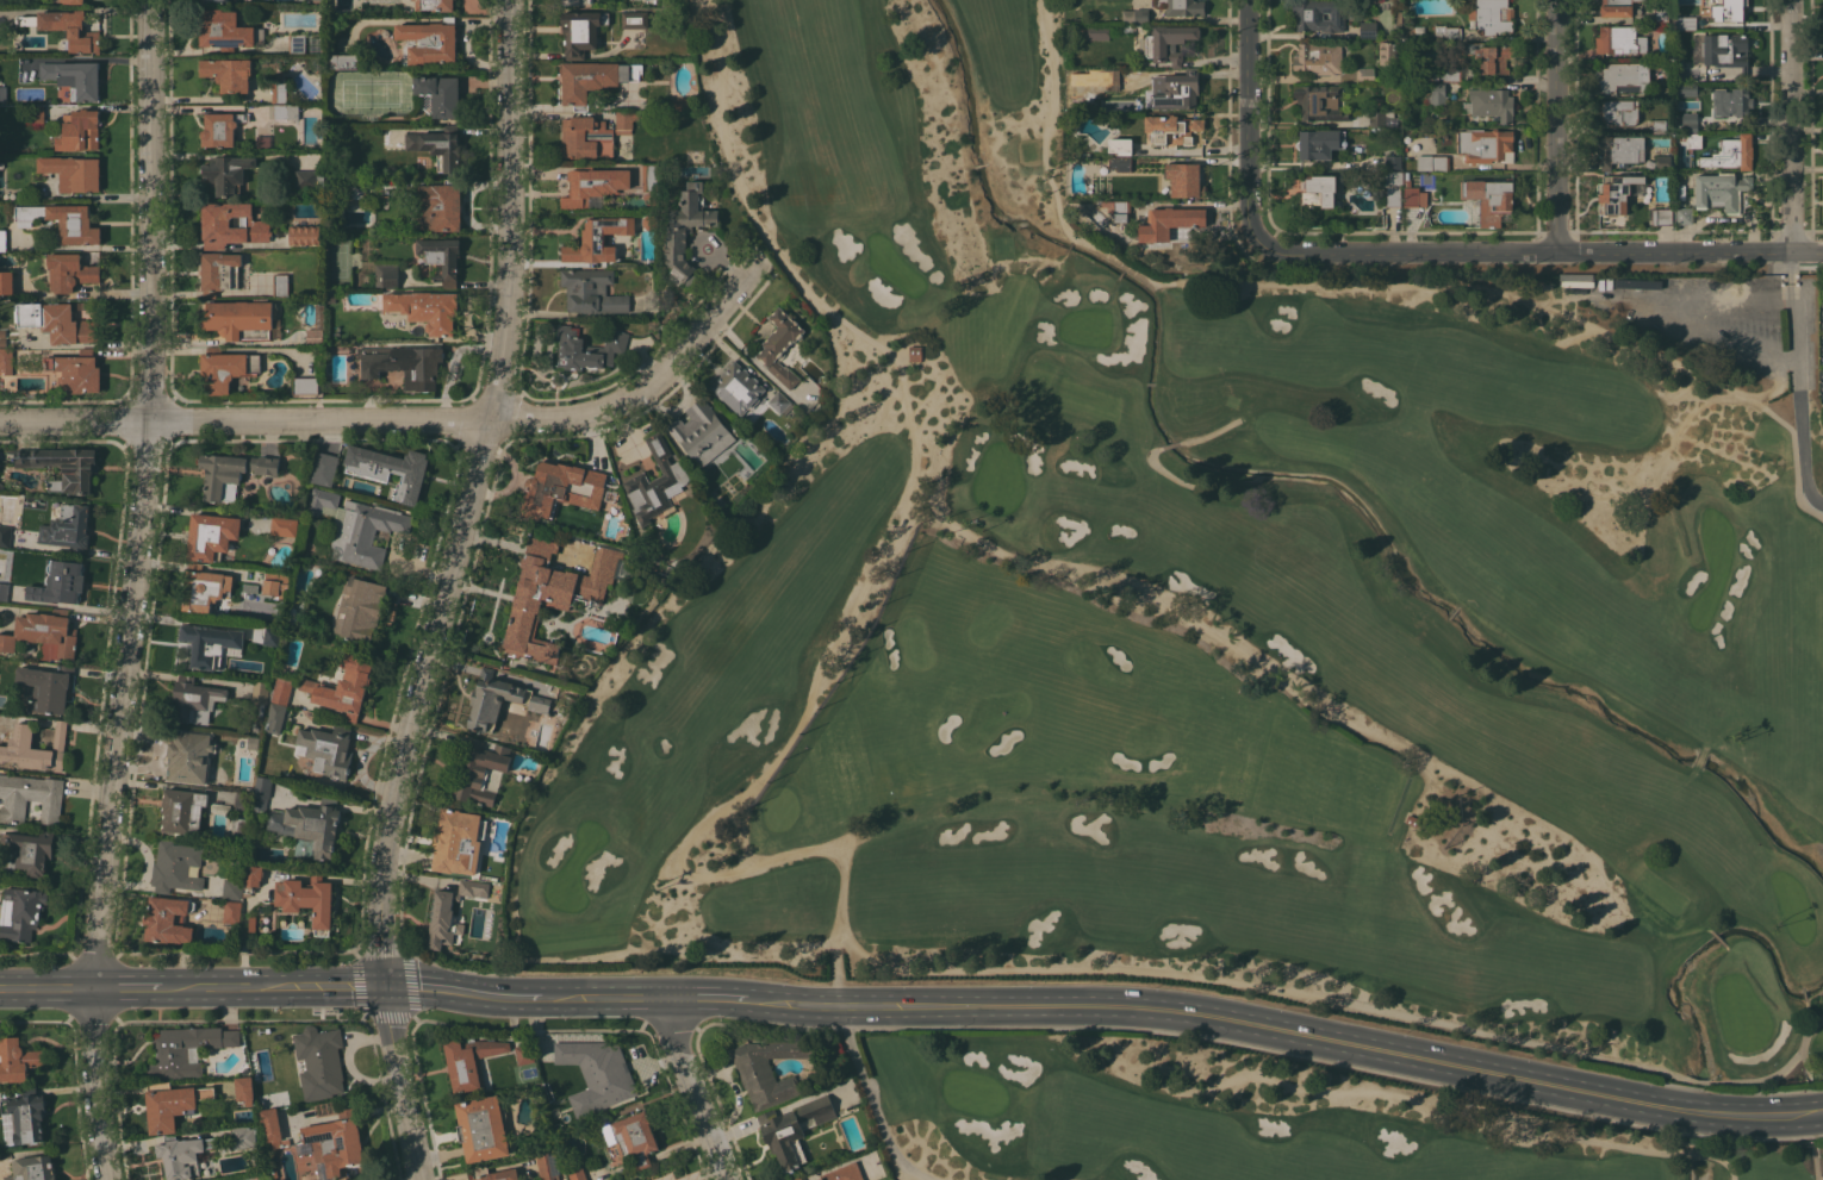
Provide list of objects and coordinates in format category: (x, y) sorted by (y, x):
building: (71, 1)
building: (214, 1)
building: (577, 1)
building: (434, 5)
building: (1184, 7)
building: (1616, 7)
building: (1726, 10)
building: (1319, 14)
building: (1661, 14)
building: (1133, 15)
building: (1489, 15)
building: (634, 19)
building: (1685, 23)
building: (1368, 27)
building: (70, 30)
building: (223, 30)
building: (581, 31)
building: (1097, 31)
building: (1449, 33)
building: (1619, 39)
building: (428, 40)
building: (297, 43)
building: (1168, 43)
building: (1725, 50)
building: (1387, 52)
building: (1489, 56)
building: (1318, 58)
building: (343, 61)
building: (228, 74)
building: (1364, 74)
building: (1441, 74)
building: (1624, 76)
building: (74, 77)
building: (592, 79)
building: (1105, 79)
building: (1685, 88)
building: (1180, 89)
building: (1665, 90)
building: (279, 92)
building: (1436, 94)
building: (2, 95)
building: (437, 95)
building: (1320, 101)
building: (1730, 101)
building: (678, 102)
building: (1489, 104)
building: (285, 111)
building: (1617, 111)
building: (35, 115)
building: (1382, 118)
road: (1245, 120)
building: (1685, 121)
building: (1659, 125)
road: (1788, 125)
road: (1553, 126)
building: (1171, 127)
building: (219, 129)
building: (79, 130)
building: (593, 135)
building: (1691, 139)
building: (263, 142)
building: (1318, 143)
building: (1120, 144)
building: (1485, 145)
building: (437, 146)
building: (1618, 149)
building: (1736, 151)
building: (1390, 161)
building: (1432, 162)
building: (1663, 162)
building: (1120, 163)
building: (73, 173)
building: (226, 173)
building: (649, 176)
building: (307, 179)
building: (1183, 180)
building: (592, 187)
building: (1392, 187)
building: (351, 188)
building: (1318, 189)
building: (1719, 191)
building: (1618, 192)
road: (93, 195)
building: (1413, 195)
building: (1491, 200)
building: (435, 205)
building: (1116, 210)
building: (1684, 214)
building: (1661, 217)
building: (62, 221)
building: (1169, 221)
building: (254, 223)
building: (682, 227)
building: (303, 235)
building: (1106, 235)
building: (597, 238)
building: (2, 239)
road: (1536, 252)
building: (440, 258)
road: (1788, 260)
building: (69, 271)
building: (219, 271)
building: (385, 275)
road: (1788, 275)
building: (6, 281)
road: (1369, 283)
building: (280, 285)
building: (591, 291)
building: (670, 292)
building: (331, 301)
building: (424, 308)
road: (1704, 310)
building: (242, 319)
road: (1791, 319)
building: (56, 321)
building: (316, 327)
building: (779, 345)
building: (586, 348)
building: (914, 349)
building: (5, 361)
building: (402, 363)
building: (225, 368)
building: (76, 370)
building: (305, 386)
building: (736, 387)
building: (779, 402)
road: (415, 423)
building: (735, 427)
building: (701, 432)
road: (1209, 433)
road: (1800, 435)
road: (1169, 444)
building: (62, 467)
building: (322, 467)
building: (390, 469)
road: (1162, 470)
building: (231, 473)
building: (655, 482)
building: (1, 486)
building: (561, 487)
road: (143, 495)
road: (468, 497)
building: (322, 501)
building: (284, 526)
building: (67, 527)
building: (363, 531)
building: (4, 535)
building: (210, 535)
building: (58, 582)
building: (273, 586)
building: (204, 588)
building: (4, 589)
road: (877, 593)
building: (554, 594)
building: (357, 607)
park: (1214, 610)
building: (294, 616)
building: (43, 633)
building: (265, 635)
building: (210, 644)
road: (1278, 681)
building: (44, 687)
building: (342, 687)
building: (281, 689)
building: (257, 698)
building: (193, 699)
building: (498, 699)
building: (274, 717)
building: (2, 723)
building: (251, 742)
building: (35, 748)
building: (326, 749)
building: (191, 757)
building: (479, 770)
building: (1371, 774)
building: (261, 791)
building: (30, 798)
building: (242, 803)
building: (219, 807)
building: (181, 811)
building: (1412, 819)
building: (309, 824)
building: (238, 829)
building: (456, 841)
building: (303, 848)
building: (30, 850)
building: (175, 866)
building: (251, 878)
building: (231, 888)
building: (307, 900)
building: (231, 911)
building: (450, 911)
building: (20, 912)
building: (167, 919)
building: (251, 923)
road: (274, 987)
traffic signals: (385, 987)
road: (127, 988)
road: (45, 989)
road: (469, 994)
road: (715, 998)
road: (612, 999)
road: (1338, 1001)
road: (1290, 1031)
building: (186, 1049)
building: (523, 1054)
building: (17, 1060)
building: (319, 1061)
building: (469, 1061)
road: (1803, 1066)
building: (769, 1069)
building: (598, 1070)
road: (403, 1084)
road: (94, 1085)
building: (244, 1090)
road: (695, 1090)
road: (871, 1099)
building: (172, 1104)
road: (1460, 1112)
building: (243, 1115)
road: (1818, 1115)
building: (23, 1117)
park: (1228, 1118)
building: (481, 1128)
building: (270, 1129)
building: (794, 1129)
building: (242, 1137)
building: (631, 1138)
building: (331, 1144)
building: (181, 1155)
road: (1815, 1160)
road: (896, 1165)
building: (547, 1166)
building: (31, 1168)
building: (574, 1170)
building: (842, 1173)
building: (493, 1174)
building: (797, 1179)

